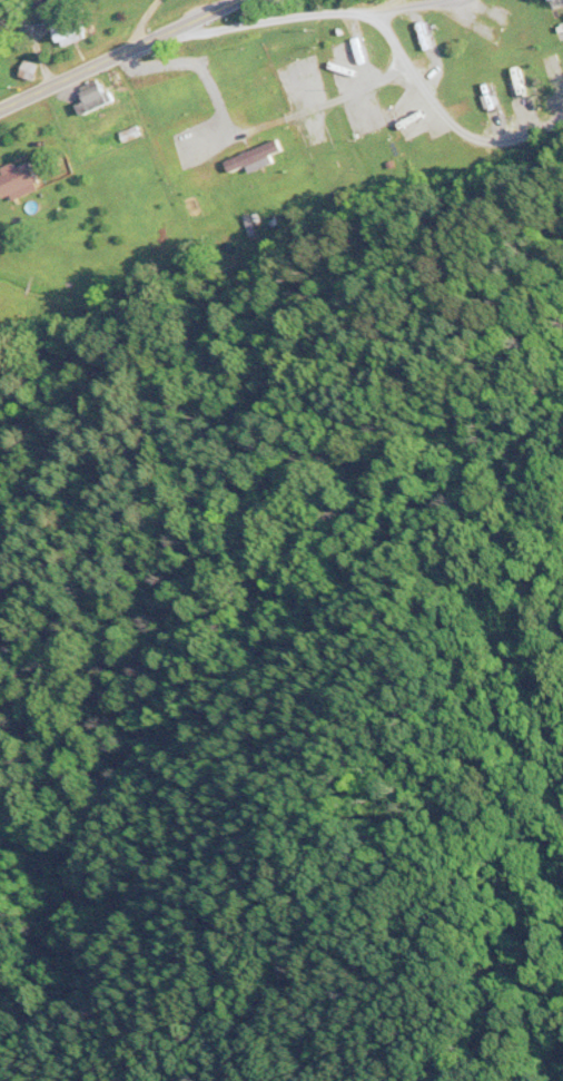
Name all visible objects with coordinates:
road: (406, 7)
building: (69, 27)
building: (496, 32)
road: (393, 47)
road: (120, 53)
building: (350, 57)
building: (28, 72)
building: (559, 75)
building: (286, 76)
building: (522, 89)
building: (95, 99)
building: (225, 99)
building: (386, 118)
road: (468, 138)
building: (318, 147)
building: (255, 157)
building: (18, 180)
building: (198, 185)

